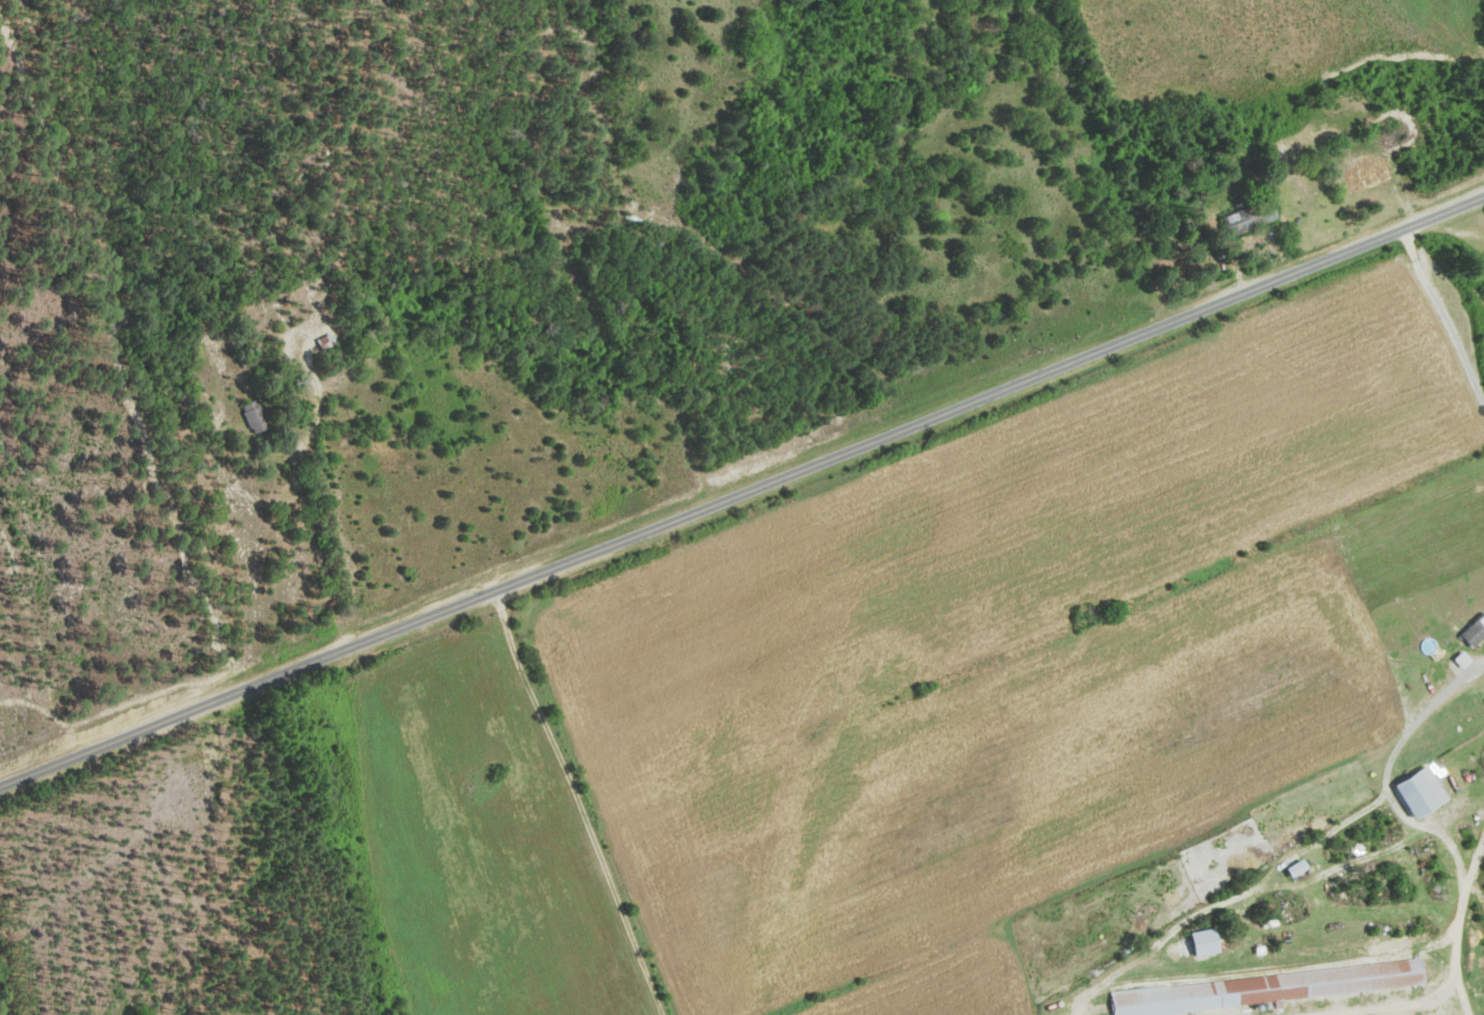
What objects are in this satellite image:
building: (1361, 172)
building: (1246, 218)
building: (251, 415)
road: (741, 493)
building: (1472, 628)
building: (1459, 658)
building: (1417, 789)
building: (1293, 866)
building: (1200, 940)
building: (1264, 987)

